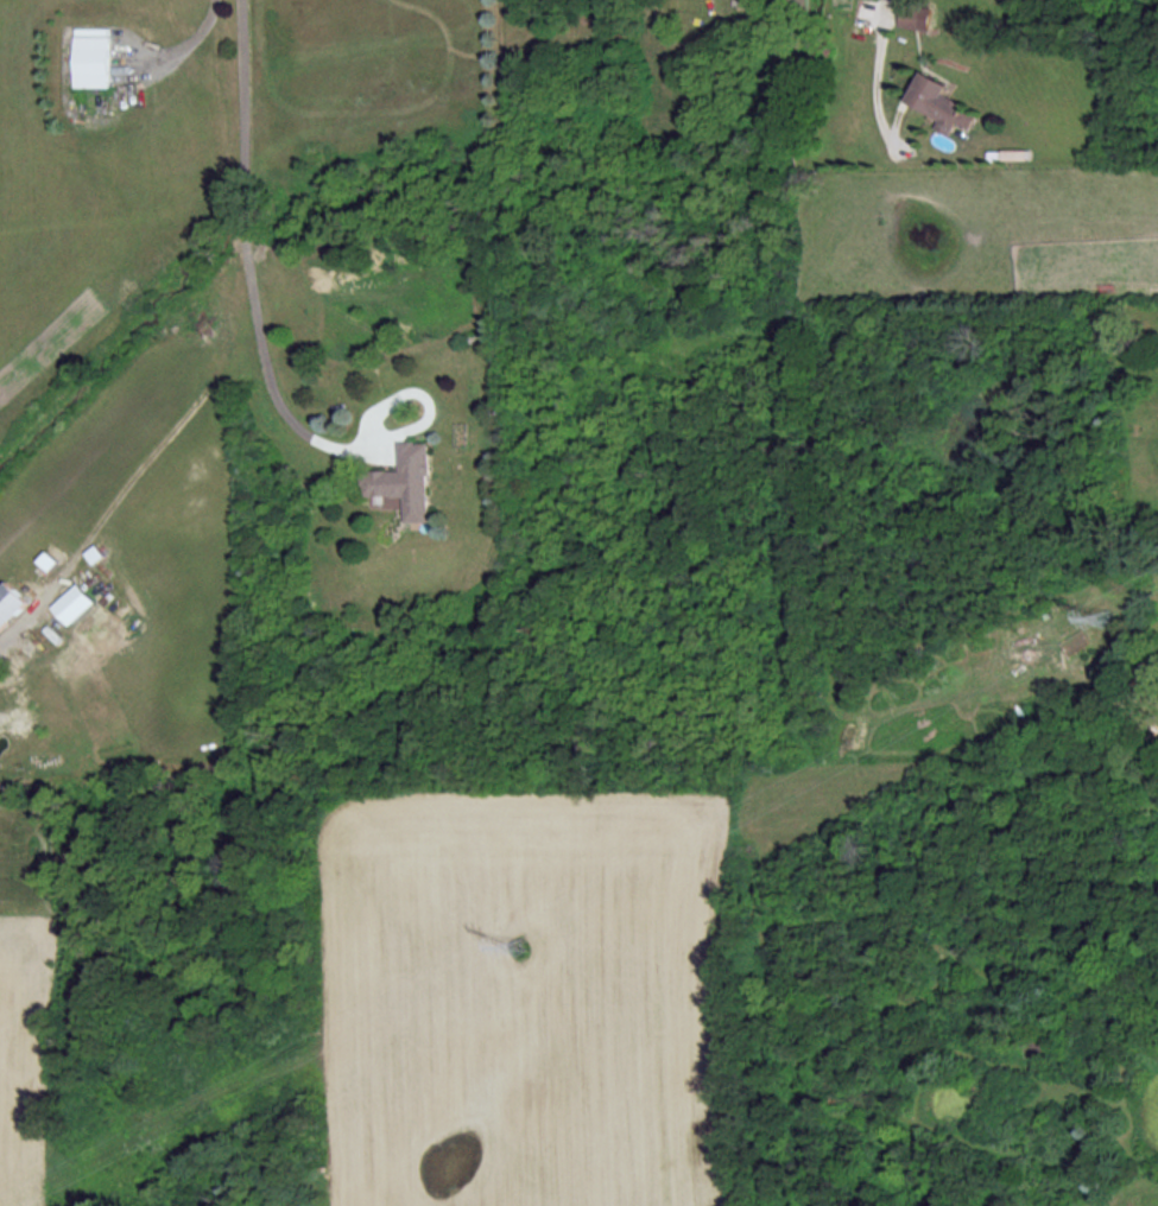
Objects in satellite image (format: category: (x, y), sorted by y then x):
building: (917, 15)
road: (194, 36)
building: (93, 56)
road: (878, 63)
building: (945, 102)
road: (246, 252)
building: (407, 480)
building: (11, 602)
building: (76, 602)
power tower: (1084, 617)
road: (17, 624)
power tower: (517, 945)

